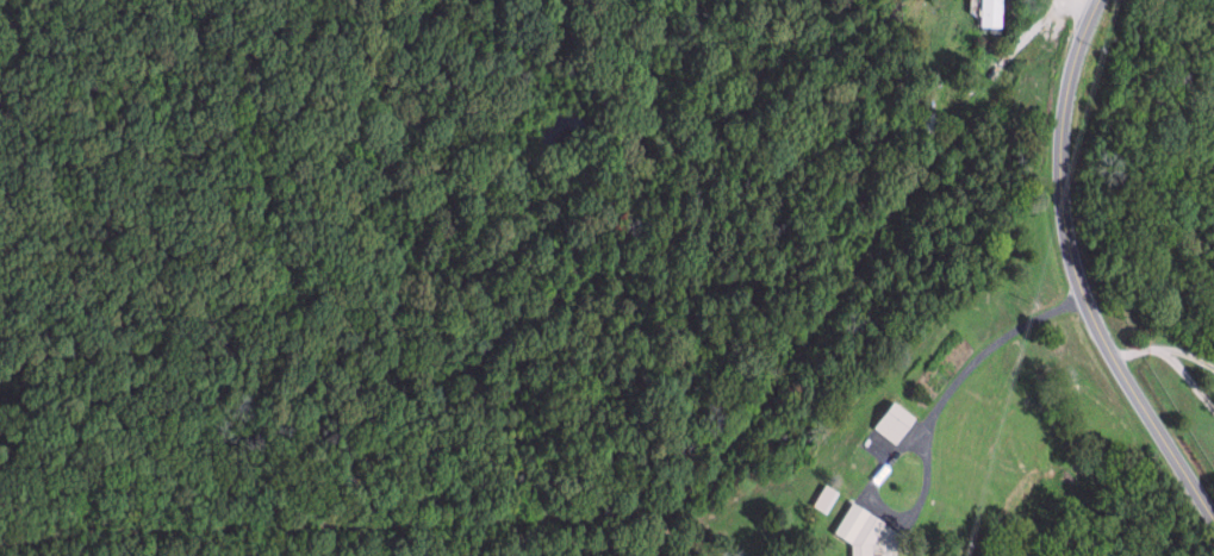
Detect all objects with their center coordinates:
road: (1083, 5)
building: (990, 13)
road: (1196, 35)
road: (1032, 42)
road: (1078, 268)
road: (998, 351)
road: (1150, 360)
road: (1188, 369)
building: (894, 421)
road: (929, 499)
building: (859, 529)

